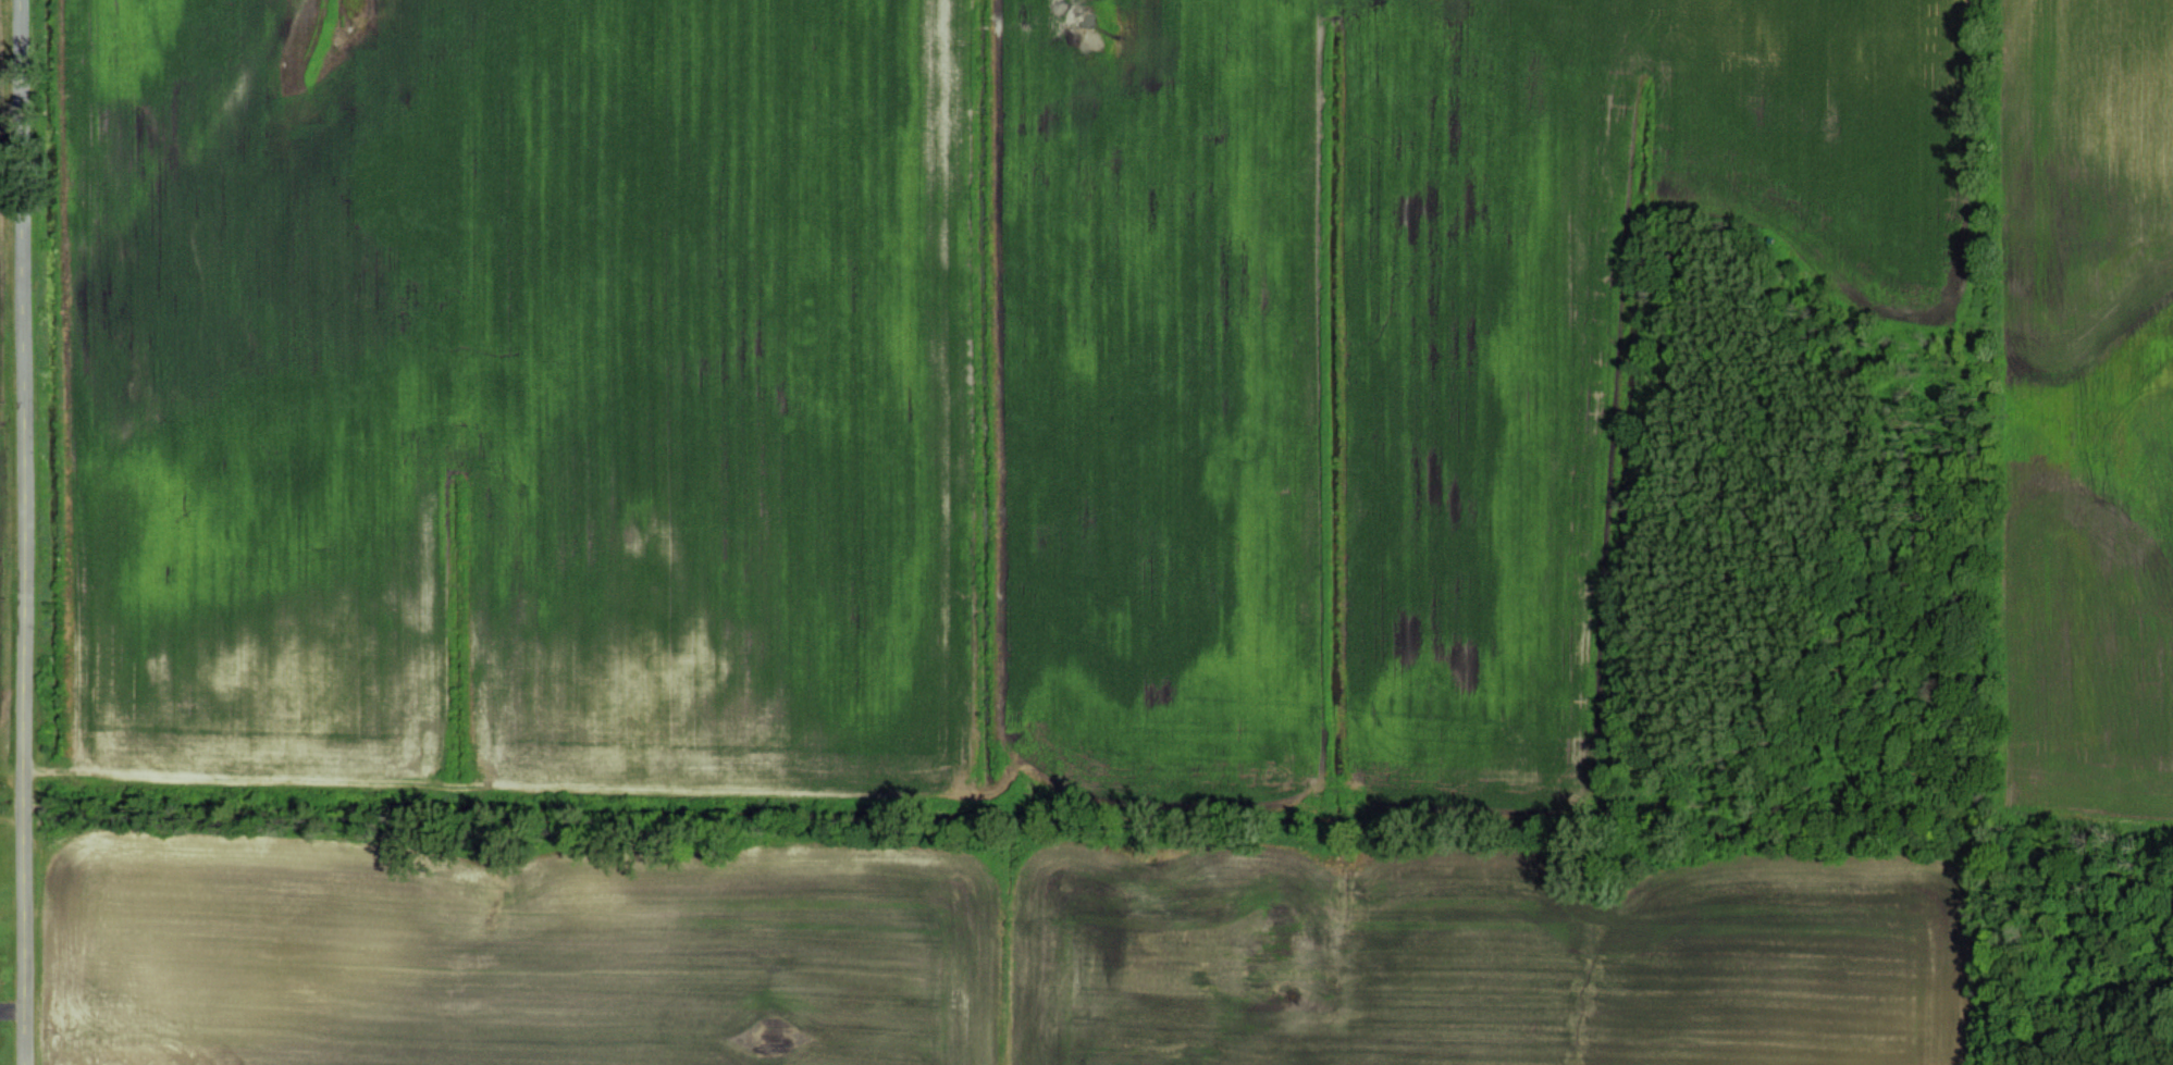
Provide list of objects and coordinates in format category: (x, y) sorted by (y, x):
road: (29, 532)

